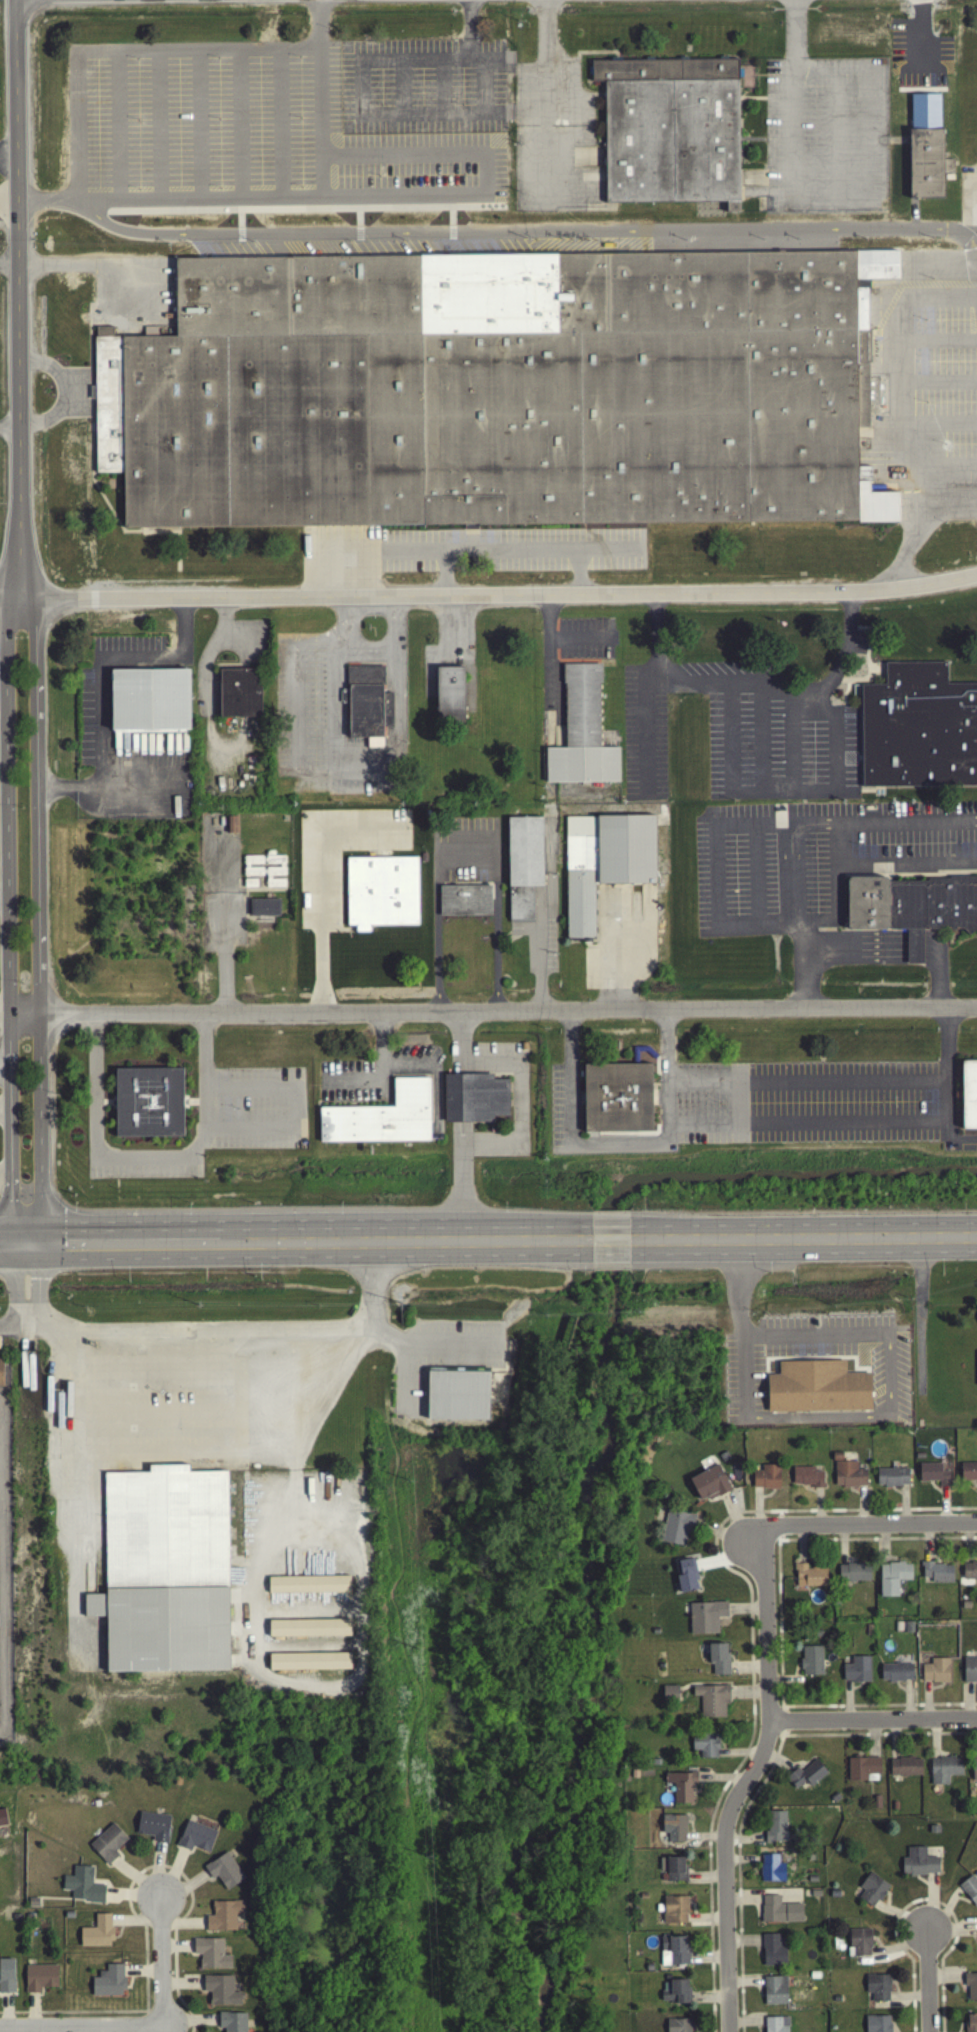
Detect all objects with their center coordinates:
road: (796, 32)
road: (123, 51)
road: (549, 96)
building: (672, 128)
building: (926, 150)
road: (9, 168)
road: (875, 190)
road: (423, 197)
road: (9, 208)
road: (525, 237)
road: (9, 260)
road: (81, 260)
road: (18, 298)
road: (906, 357)
building: (495, 389)
road: (63, 390)
road: (9, 422)
road: (921, 527)
road: (610, 548)
road: (533, 549)
road: (406, 551)
road: (489, 592)
road: (345, 623)
road: (392, 623)
road: (224, 632)
road: (558, 637)
road: (103, 682)
road: (751, 688)
building: (242, 691)
building: (449, 697)
building: (153, 699)
building: (365, 704)
building: (919, 726)
building: (581, 736)
road: (387, 759)
building: (232, 827)
road: (837, 848)
building: (605, 860)
building: (523, 861)
road: (465, 865)
road: (755, 878)
road: (714, 879)
road: (323, 886)
building: (382, 889)
building: (465, 897)
road: (790, 901)
building: (911, 907)
building: (264, 910)
road: (39, 914)
road: (8, 917)
flagpole: (348, 931)
road: (878, 937)
road: (495, 943)
road: (872, 943)
road: (435, 944)
road: (539, 946)
road: (897, 949)
building: (913, 950)
road: (872, 956)
road: (609, 957)
road: (872, 964)
road: (805, 967)
road: (493, 1014)
road: (4, 1016)
road: (5, 1076)
road: (805, 1085)
building: (474, 1095)
building: (969, 1097)
road: (105, 1099)
road: (199, 1099)
building: (150, 1101)
building: (617, 1101)
parking lot: (259, 1105)
road: (5, 1107)
road: (298, 1107)
building: (383, 1115)
road: (806, 1126)
road: (568, 1135)
road: (955, 1141)
road: (147, 1156)
road: (5, 1171)
road: (803, 1236)
traffic signals: (41, 1238)
road: (301, 1238)
road: (610, 1239)
road: (6, 1240)
traffic signals: (12, 1240)
road: (16, 1283)
road: (39, 1284)
road: (738, 1312)
road: (13, 1328)
road: (238, 1340)
road: (796, 1341)
building: (2, 1370)
building: (976, 1370)
building: (458, 1390)
building: (817, 1391)
road: (291, 1407)
building: (968, 1474)
building: (847, 1476)
building: (933, 1477)
building: (766, 1480)
building: (806, 1480)
building: (891, 1480)
building: (709, 1486)
road: (283, 1524)
road: (872, 1526)
building: (676, 1531)
building: (167, 1568)
building: (969, 1573)
building: (853, 1575)
building: (937, 1575)
building: (686, 1579)
building: (809, 1580)
building: (892, 1580)
building: (308, 1587)
building: (705, 1620)
building: (309, 1631)
building: (718, 1662)
building: (309, 1664)
building: (811, 1664)
building: (856, 1673)
building: (969, 1673)
building: (935, 1674)
building: (895, 1675)
building: (669, 1697)
building: (712, 1703)
road: (874, 1717)
building: (705, 1748)
building: (905, 1770)
building: (974, 1771)
building: (862, 1772)
building: (944, 1772)
building: (806, 1777)
road: (747, 1779)
building: (681, 1789)
building: (153, 1829)
building: (775, 1829)
building: (674, 1830)
building: (196, 1840)
building: (108, 1846)
building: (918, 1866)
building: (673, 1871)
building: (771, 1871)
building: (224, 1874)
building: (82, 1888)
building: (970, 1892)
building: (871, 1893)
building: (675, 1912)
building: (779, 1913)
building: (223, 1919)
building: (97, 1935)
building: (859, 1945)
building: (674, 1954)
building: (772, 1954)
building: (210, 1956)
road: (157, 1963)
road: (931, 1977)
building: (6, 1979)
building: (40, 1981)
building: (109, 1985)
building: (971, 1989)
building: (878, 1990)
building: (220, 1993)
building: (774, 1993)
building: (674, 1995)
building: (232, 2024)
building: (970, 2024)
building: (877, 2025)
building: (776, 2026)
building: (678, 2027)
road: (78, 2029)

